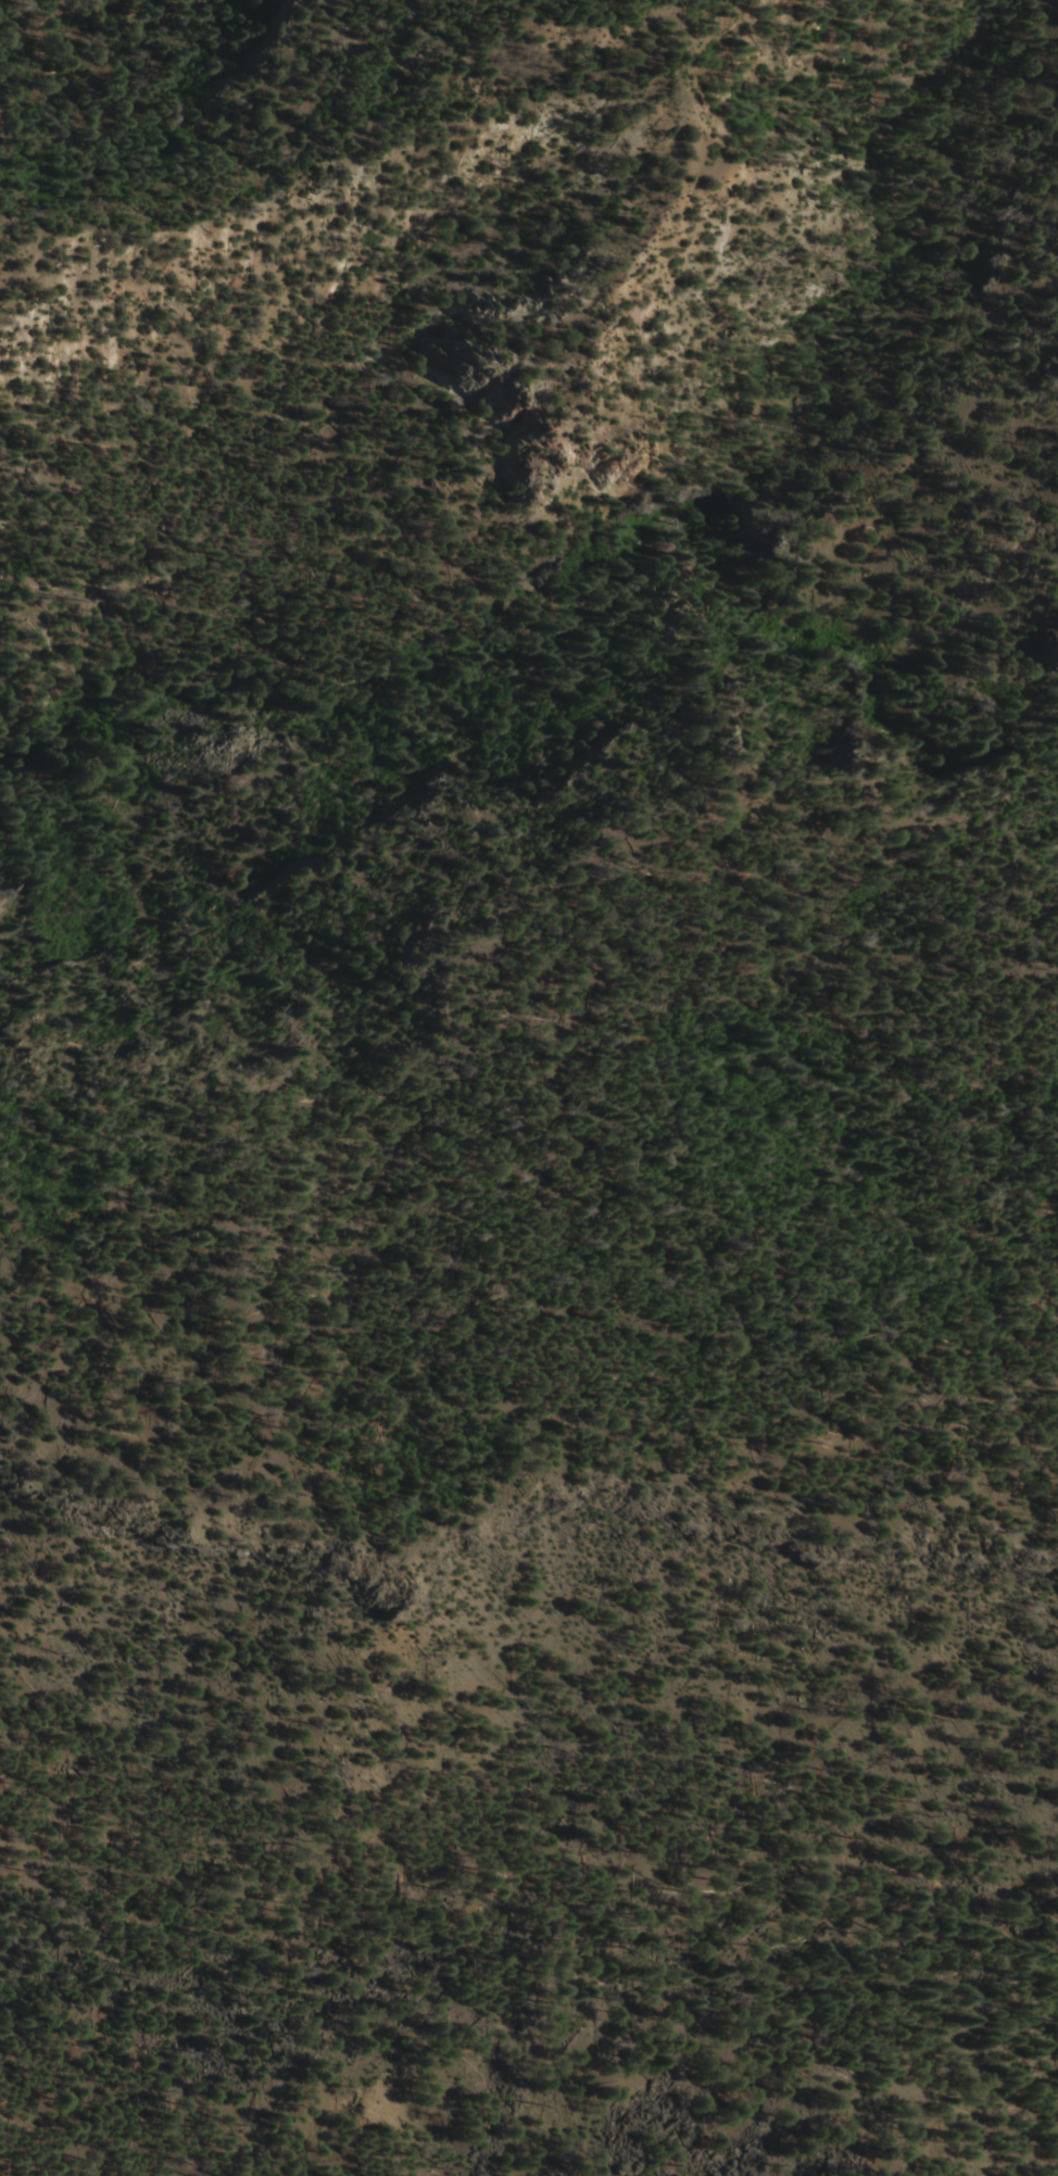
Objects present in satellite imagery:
road: (588, 2041)

